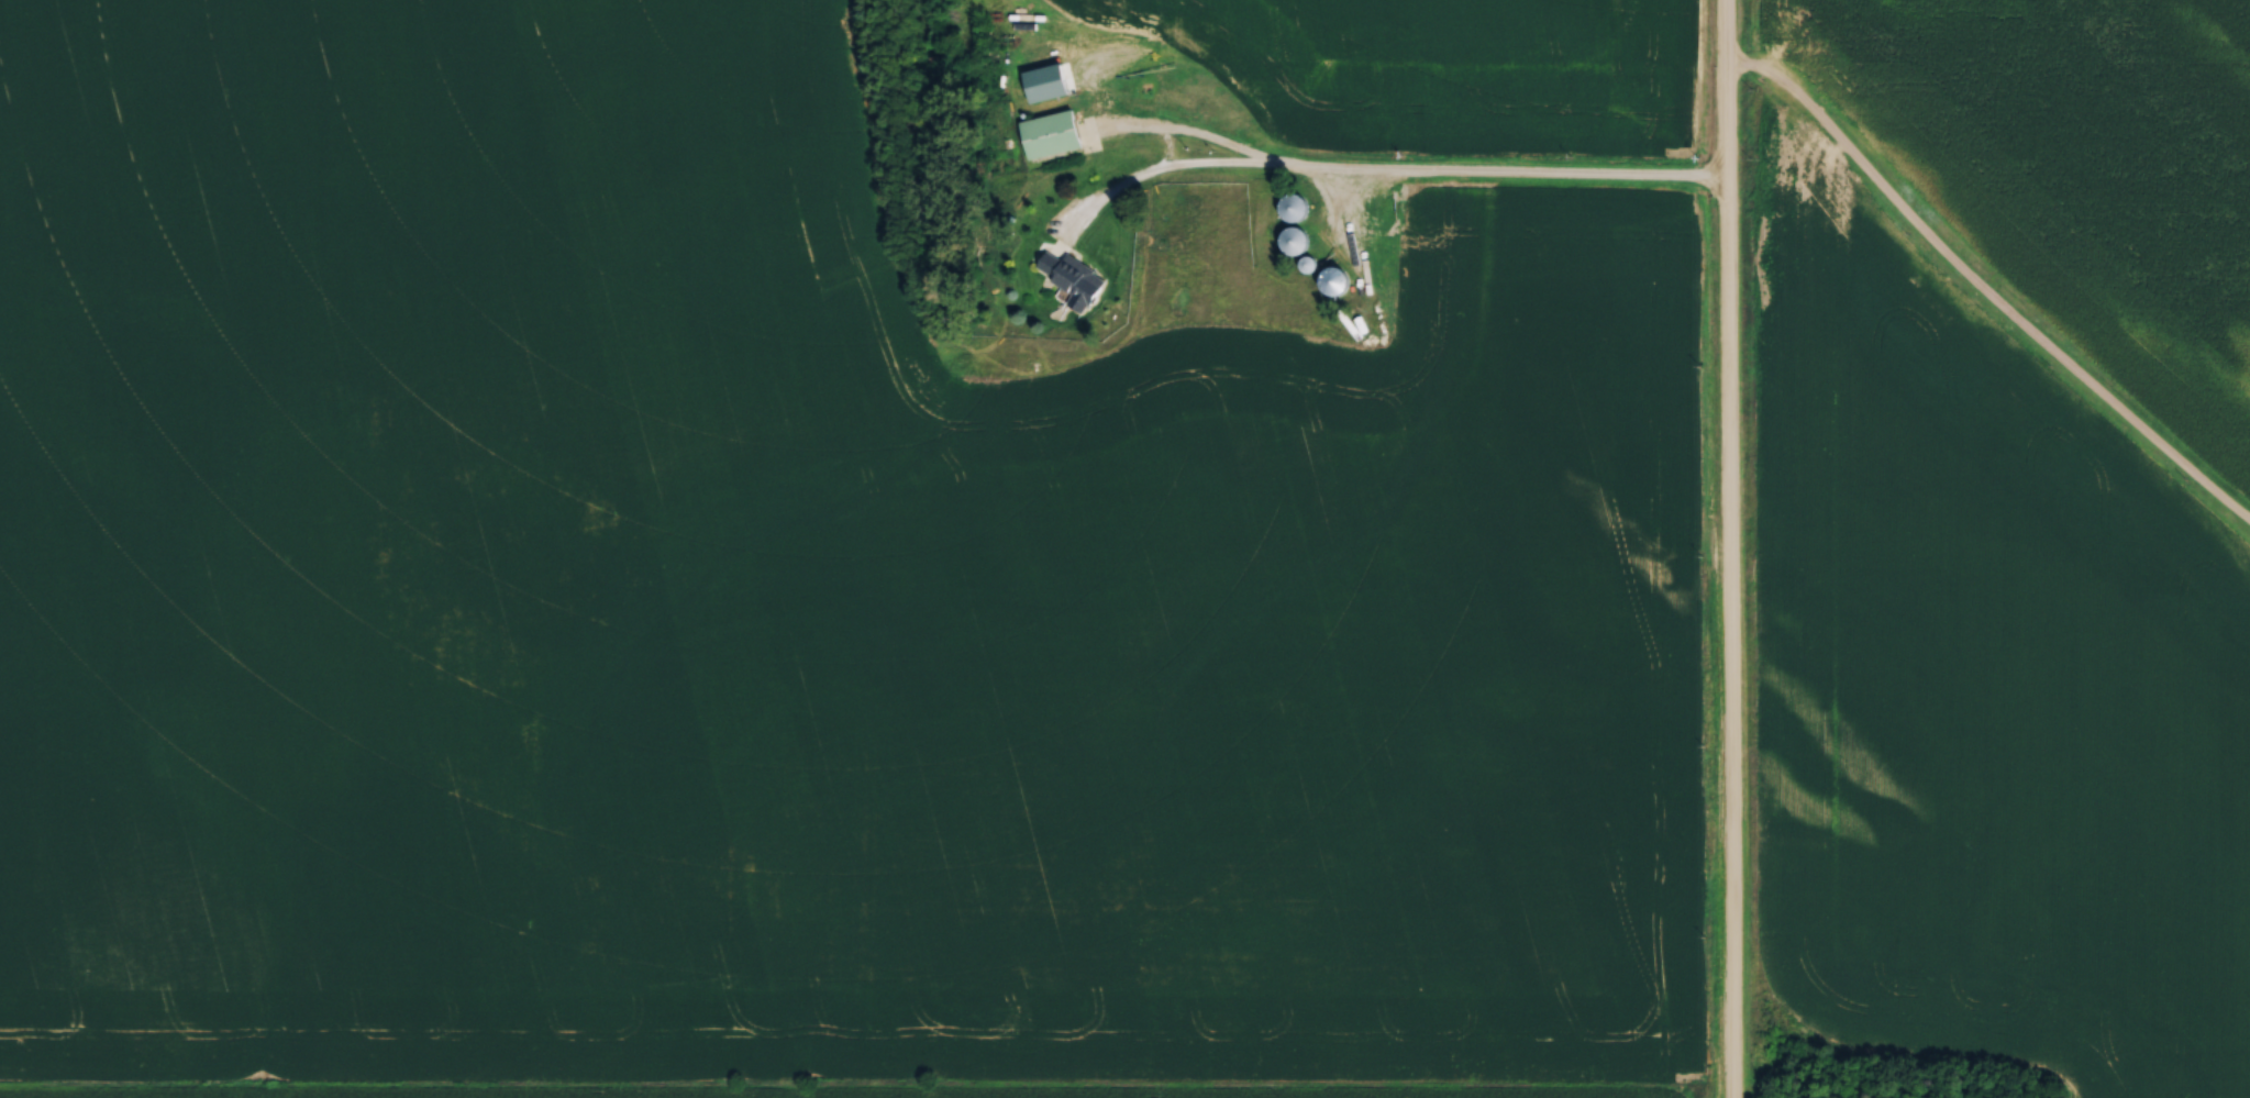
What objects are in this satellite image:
building: (1054, 132)
road: (1372, 170)
building: (1298, 204)
building: (1297, 237)
building: (1310, 259)
building: (1075, 276)
building: (1339, 278)
road: (1983, 295)
road: (1726, 548)

